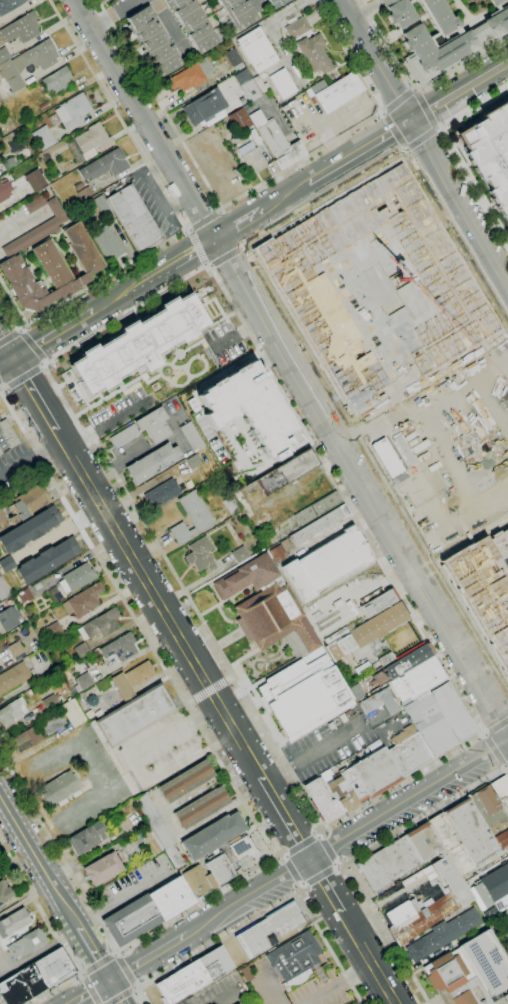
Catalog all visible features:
building: (409, 1)
building: (496, 2)
building: (277, 3)
building: (9, 5)
road: (261, 6)
building: (499, 8)
road: (365, 9)
road: (112, 12)
building: (239, 12)
building: (399, 12)
flagpole: (304, 13)
building: (440, 15)
road: (465, 16)
building: (497, 22)
building: (193, 24)
road: (168, 25)
building: (21, 28)
building: (297, 28)
road: (403, 29)
building: (437, 29)
building: (479, 31)
building: (153, 41)
road: (488, 46)
building: (257, 49)
building: (434, 51)
building: (314, 53)
building: (4, 55)
building: (232, 57)
building: (27, 63)
building: (191, 75)
building: (57, 80)
building: (260, 84)
building: (282, 84)
building: (247, 85)
building: (317, 87)
road: (415, 87)
road: (415, 88)
road: (459, 91)
building: (337, 92)
road: (399, 101)
building: (42, 106)
building: (204, 107)
road: (425, 108)
road: (470, 108)
building: (72, 111)
road: (381, 113)
road: (147, 119)
building: (239, 121)
traffic signals: (411, 121)
road: (403, 126)
road: (438, 127)
road: (395, 130)
building: (0, 137)
road: (421, 137)
building: (43, 138)
building: (277, 142)
building: (88, 143)
road: (425, 147)
road: (404, 150)
building: (490, 153)
road: (351, 158)
building: (254, 161)
building: (8, 164)
building: (104, 165)
building: (35, 180)
building: (76, 185)
building: (4, 190)
road: (252, 190)
road: (474, 190)
building: (84, 193)
road: (155, 193)
road: (283, 199)
building: (103, 208)
road: (220, 211)
road: (179, 218)
building: (135, 219)
road: (204, 221)
building: (47, 226)
road: (238, 226)
road: (230, 227)
road: (187, 229)
traffic signals: (217, 239)
building: (106, 242)
road: (196, 246)
road: (242, 246)
road: (225, 256)
road: (180, 259)
road: (205, 264)
road: (209, 265)
road: (202, 268)
building: (52, 271)
building: (302, 289)
road: (120, 296)
road: (250, 326)
road: (23, 329)
road: (55, 335)
road: (9, 337)
road: (225, 342)
building: (138, 344)
road: (31, 345)
road: (191, 346)
road: (7, 348)
road: (269, 358)
traffic signals: (15, 360)
road: (43, 360)
road: (203, 361)
road: (7, 364)
road: (168, 364)
road: (41, 366)
road: (186, 373)
road: (23, 377)
road: (175, 385)
road: (3, 388)
road: (117, 389)
road: (35, 394)
building: (250, 410)
road: (121, 416)
building: (144, 428)
building: (7, 436)
building: (191, 437)
road: (80, 439)
road: (30, 455)
building: (385, 457)
building: (153, 463)
road: (375, 465)
building: (286, 472)
road: (361, 485)
building: (162, 493)
building: (28, 503)
building: (231, 505)
building: (317, 508)
building: (196, 511)
building: (506, 521)
building: (319, 525)
building: (29, 529)
building: (180, 533)
building: (277, 553)
building: (240, 554)
building: (200, 555)
building: (47, 560)
building: (327, 563)
building: (6, 564)
building: (77, 578)
building: (4, 590)
building: (483, 592)
building: (52, 594)
building: (24, 596)
road: (159, 600)
building: (83, 601)
building: (379, 603)
building: (268, 608)
building: (9, 618)
road: (136, 622)
building: (100, 625)
flagpole: (407, 628)
building: (54, 630)
building: (368, 631)
flagpole: (409, 631)
building: (120, 648)
building: (82, 649)
building: (15, 650)
building: (386, 658)
building: (404, 663)
building: (362, 668)
building: (13, 677)
building: (131, 679)
road: (231, 680)
building: (417, 680)
building: (83, 682)
road: (210, 691)
building: (304, 694)
building: (90, 700)
road: (189, 702)
building: (378, 702)
building: (50, 703)
building: (12, 711)
building: (453, 711)
building: (72, 712)
building: (135, 715)
building: (53, 722)
building: (429, 724)
road: (497, 726)
road: (484, 733)
building: (25, 739)
parking lot: (327, 745)
road: (496, 749)
building: (408, 751)
road: (314, 753)
road: (507, 764)
road: (506, 767)
building: (376, 772)
building: (185, 781)
building: (130, 784)
building: (353, 784)
building: (58, 789)
building: (339, 790)
building: (501, 791)
building: (322, 799)
building: (488, 807)
building: (202, 808)
road: (285, 816)
building: (155, 821)
building: (471, 830)
road: (321, 832)
building: (213, 835)
road: (345, 835)
building: (87, 838)
building: (502, 839)
building: (151, 841)
building: (423, 842)
building: (451, 844)
road: (302, 847)
road: (31, 849)
building: (244, 849)
road: (58, 850)
road: (326, 850)
road: (280, 856)
building: (174, 857)
road: (356, 858)
building: (397, 858)
road: (339, 865)
building: (103, 869)
building: (219, 869)
road: (294, 870)
building: (373, 873)
road: (318, 874)
building: (199, 880)
road: (324, 885)
building: (492, 886)
road: (301, 889)
building: (4, 893)
building: (171, 898)
road: (122, 899)
road: (194, 902)
building: (501, 902)
building: (429, 904)
road: (264, 913)
road: (70, 916)
building: (131, 920)
building: (13, 922)
parking lot: (497, 922)
building: (269, 928)
road: (54, 932)
building: (442, 935)
building: (26, 944)
road: (115, 952)
road: (37, 954)
road: (93, 954)
road: (147, 957)
road: (367, 958)
building: (296, 960)
building: (486, 963)
road: (97, 964)
building: (54, 968)
road: (124, 970)
road: (81, 974)
building: (194, 975)
building: (452, 979)
traffic signals: (109, 980)
building: (31, 981)
road: (339, 984)
road: (136, 987)
road: (90, 989)
road: (272, 989)
building: (13, 991)
road: (116, 991)
road: (89, 992)
road: (119, 995)
building: (505, 997)

